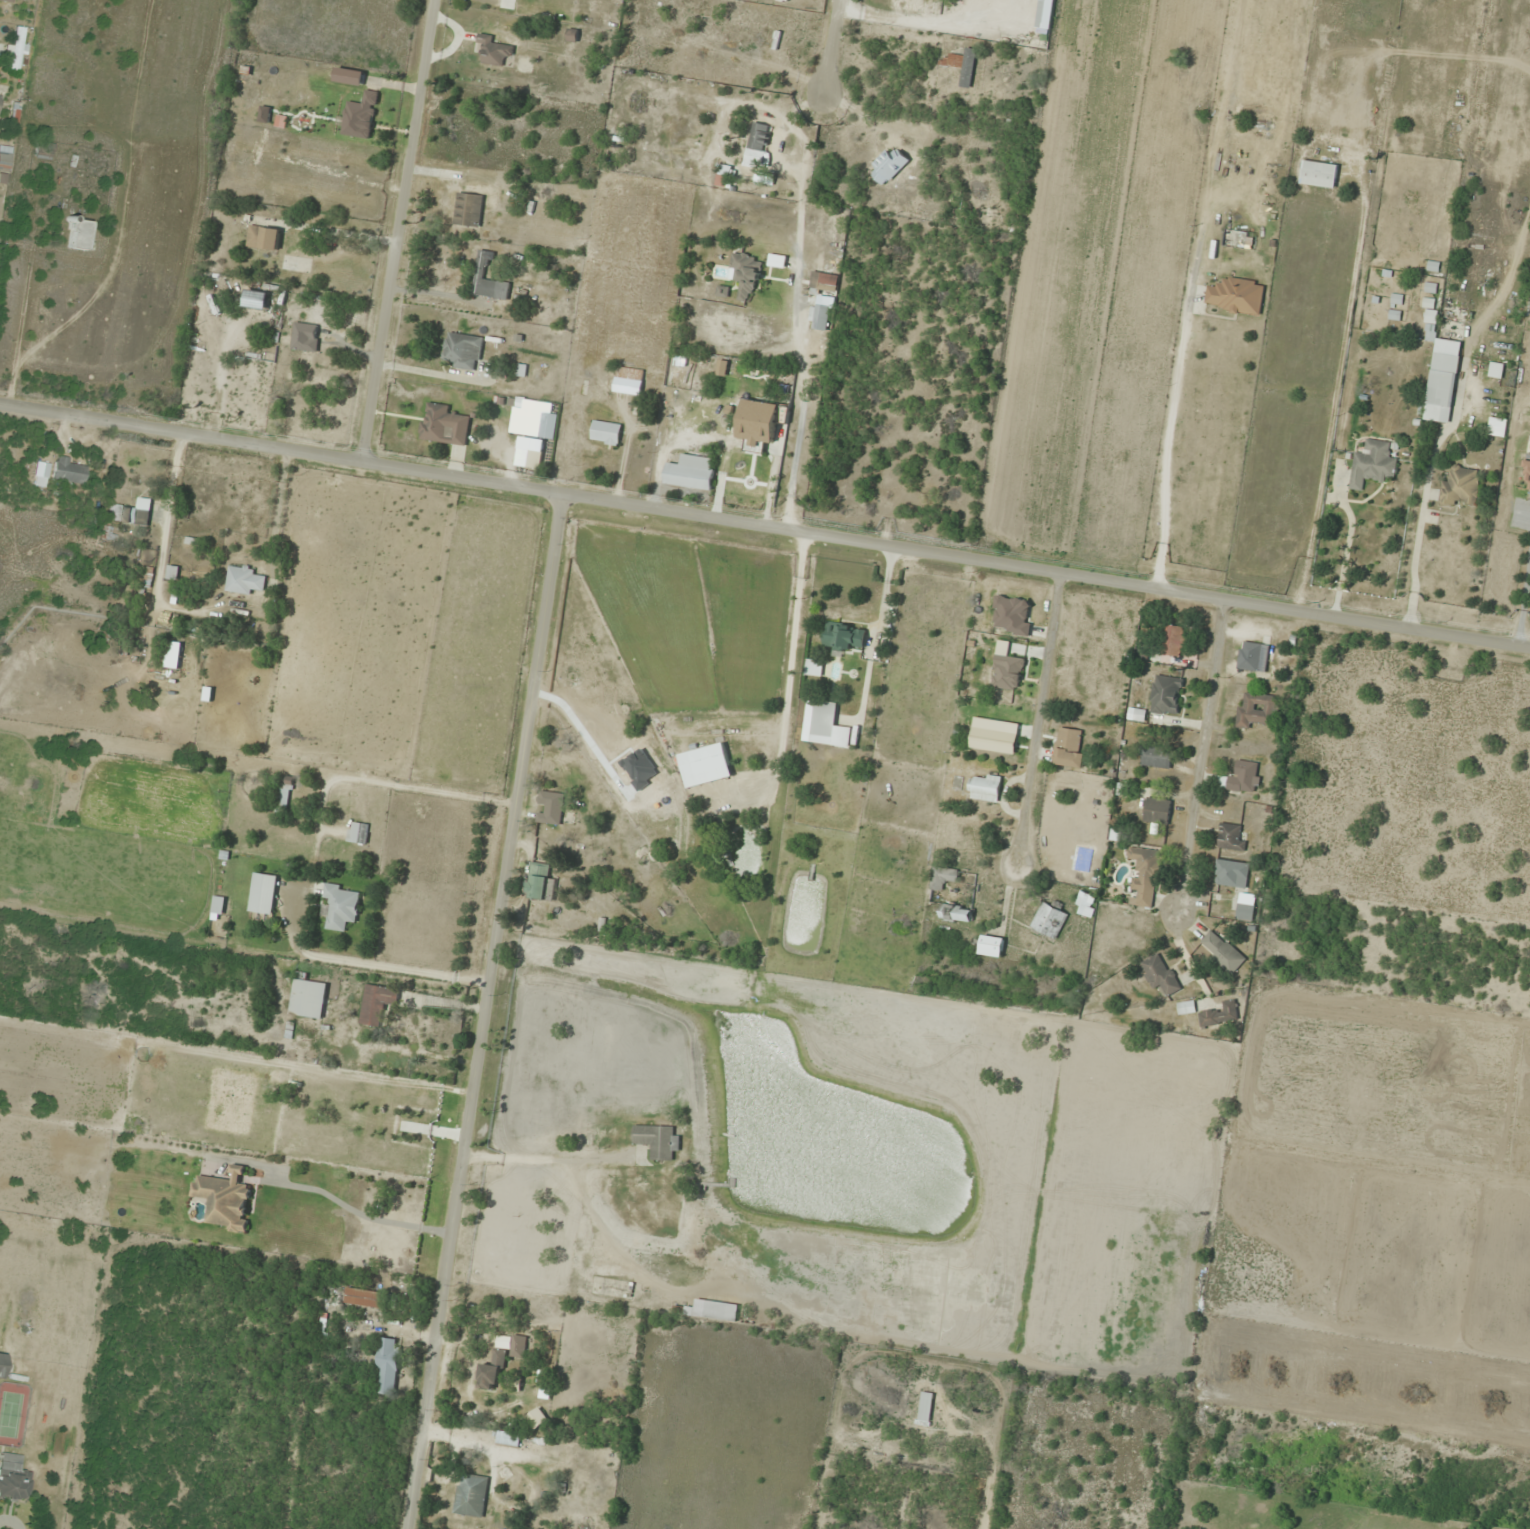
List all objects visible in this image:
building: (6, 0)
road: (833, 47)
building: (15, 48)
building: (495, 49)
building: (962, 64)
building: (758, 143)
building: (41, 150)
building: (4, 157)
building: (889, 165)
building: (1320, 174)
building: (724, 175)
building: (768, 176)
building: (469, 209)
road: (397, 229)
building: (77, 234)
building: (264, 237)
building: (778, 260)
building: (747, 273)
building: (489, 278)
building: (1236, 295)
building: (822, 299)
building: (306, 336)
building: (464, 350)
building: (1496, 369)
building: (1441, 373)
building: (624, 379)
building: (690, 415)
building: (444, 424)
building: (548, 425)
building: (1497, 426)
building: (606, 432)
road: (281, 446)
building: (534, 459)
building: (744, 463)
building: (1372, 463)
building: (1527, 467)
building: (69, 470)
building: (691, 470)
building: (1461, 485)
building: (744, 487)
building: (1529, 488)
building: (131, 512)
road: (1046, 570)
building: (245, 579)
building: (845, 635)
building: (1174, 639)
building: (1253, 655)
building: (174, 658)
building: (814, 666)
building: (1166, 694)
building: (1257, 708)
building: (1136, 713)
road: (1037, 716)
building: (828, 725)
building: (1069, 747)
building: (1157, 755)
road: (1202, 756)
building: (706, 764)
building: (1243, 776)
building: (985, 786)
building: (284, 793)
building: (550, 807)
building: (1157, 810)
building: (358, 832)
building: (1231, 836)
building: (1231, 873)
building: (1144, 875)
building: (943, 876)
building: (540, 882)
building: (264, 892)
building: (1086, 903)
building: (219, 904)
building: (341, 905)
building: (1246, 906)
building: (956, 911)
building: (1049, 918)
building: (991, 945)
building: (1222, 950)
building: (1160, 973)
building: (308, 997)
building: (378, 1002)
building: (1186, 1006)
road: (482, 1011)
building: (1220, 1014)
building: (373, 1112)
building: (658, 1140)
road: (328, 1194)
building: (225, 1199)
building: (566, 1247)
building: (370, 1298)
building: (721, 1310)
building: (502, 1359)
building: (388, 1363)
building: (925, 1407)
building: (537, 1417)
building: (509, 1436)
building: (13, 1478)
building: (471, 1494)
building: (543, 1528)

